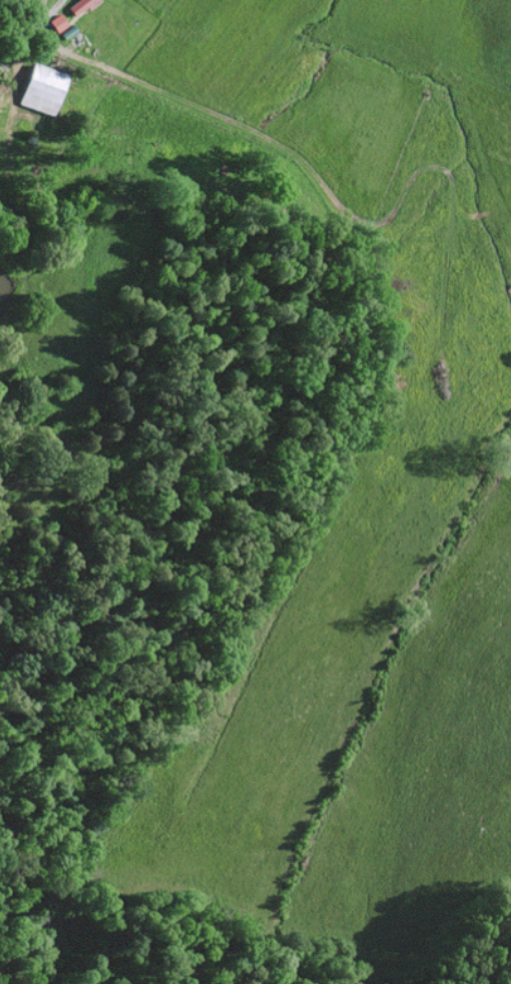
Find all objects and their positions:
building: (79, 6)
building: (42, 88)

